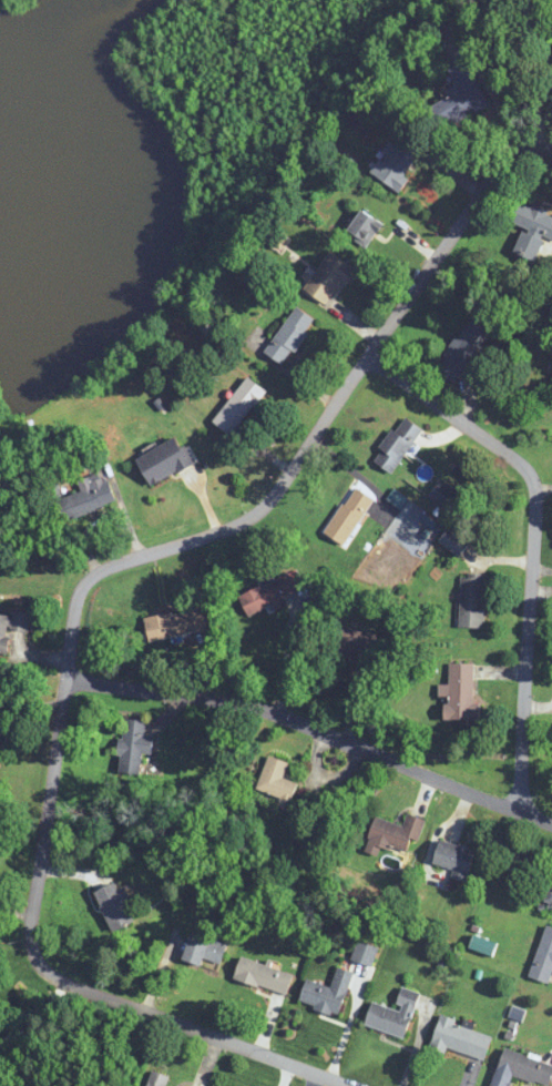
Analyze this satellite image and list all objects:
building: (458, 99)
building: (399, 159)
building: (365, 227)
building: (531, 229)
building: (329, 278)
building: (290, 335)
building: (463, 351)
building: (239, 406)
road: (451, 412)
building: (397, 444)
building: (165, 459)
building: (443, 495)
building: (88, 498)
building: (348, 515)
building: (454, 540)
building: (268, 593)
building: (472, 599)
road: (74, 612)
building: (175, 623)
building: (11, 627)
road: (528, 637)
building: (351, 639)
building: (460, 692)
building: (0, 711)
road: (314, 727)
building: (134, 745)
building: (277, 782)
building: (397, 832)
building: (454, 859)
building: (550, 903)
building: (114, 906)
building: (204, 950)
building: (365, 952)
building: (543, 957)
building: (264, 975)
building: (327, 992)
building: (393, 1014)
building: (462, 1038)
building: (522, 1069)
building: (157, 1078)

